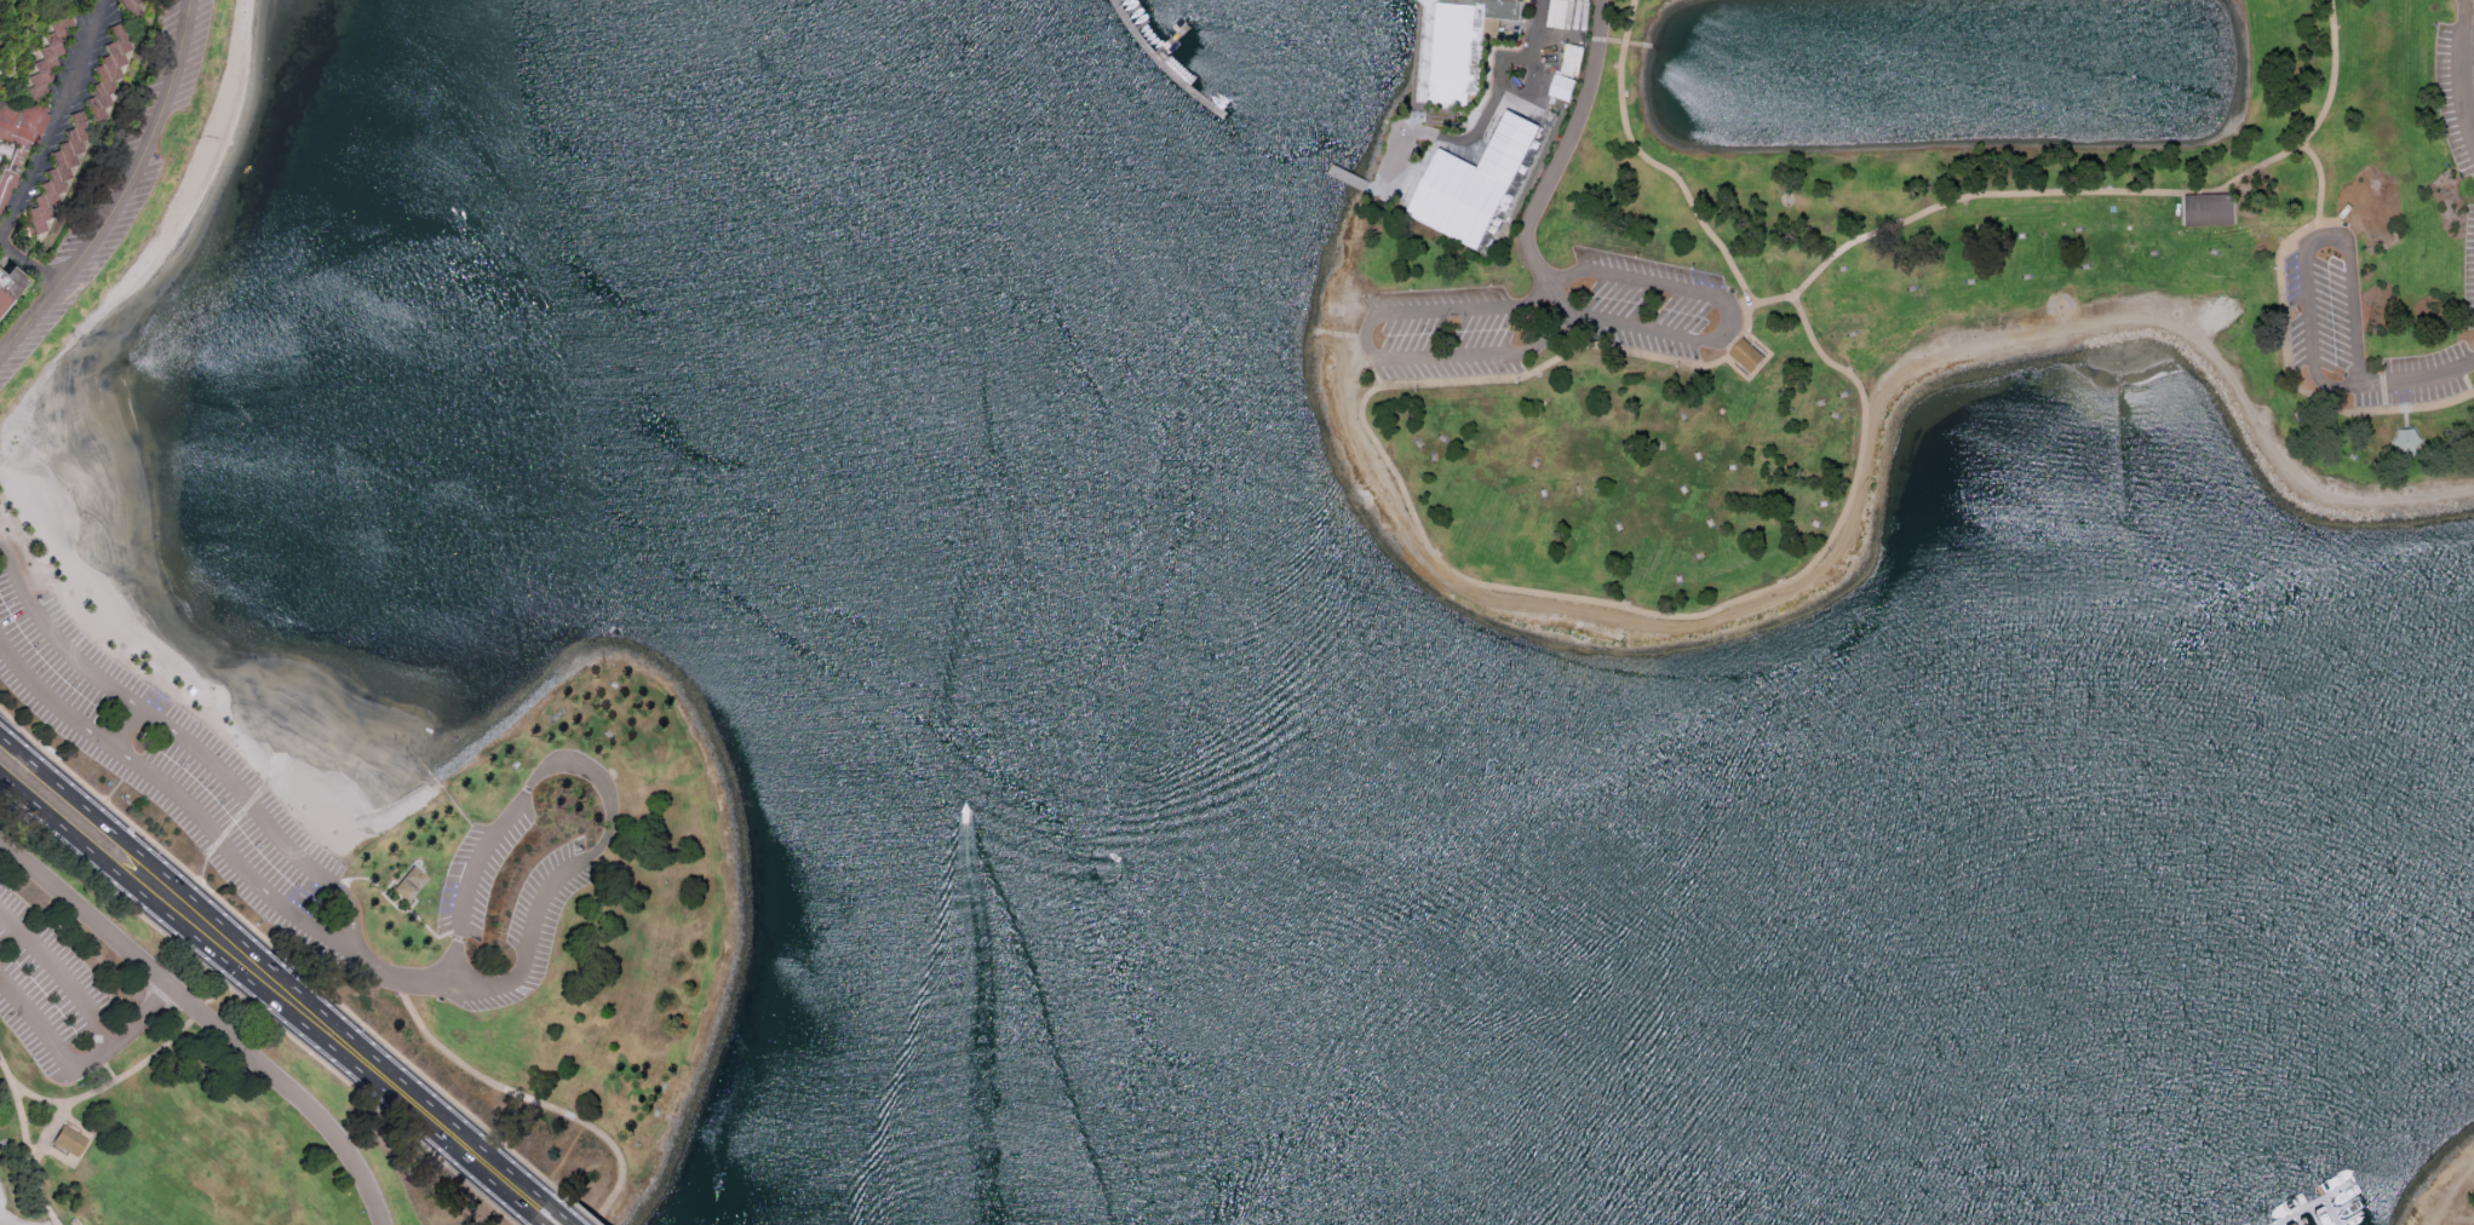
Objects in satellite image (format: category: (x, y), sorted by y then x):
building: (126, 2)
road: (1543, 30)
building: (1458, 47)
pier: (1181, 51)
building: (1571, 58)
building: (109, 62)
pier: (1165, 64)
road: (2462, 70)
building: (1560, 85)
road: (57, 119)
building: (21, 122)
road: (1565, 146)
road: (1654, 162)
building: (57, 177)
building: (1466, 183)
road: (2114, 192)
road: (125, 194)
parking lot: (2470, 211)
building: (2209, 212)
road: (1430, 215)
road: (2318, 238)
road: (29, 270)
building: (7, 282)
park: (1900, 287)
road: (1560, 303)
road: (1729, 309)
road: (2350, 314)
parking lot: (1549, 318)
road: (1370, 346)
road: (2283, 349)
building: (1749, 356)
road: (2336, 387)
building: (2409, 442)
road: (1862, 459)
road: (58, 640)
road: (133, 730)
parking lot: (174, 763)
road: (270, 826)
road: (214, 828)
road: (607, 840)
building: (414, 886)
park: (568, 937)
road: (281, 951)
road: (276, 966)
road: (63, 972)
parking lot: (59, 994)
road: (269, 996)
road: (262, 1010)
road: (208, 1022)
road: (78, 1066)
park: (177, 1080)
road: (115, 1085)
road: (532, 1099)
road: (50, 1134)
road: (29, 1139)
building: (73, 1144)
pier: (2317, 1204)
road: (582, 1209)
pier: (2334, 1212)
road: (566, 1214)
road: (543, 1223)

